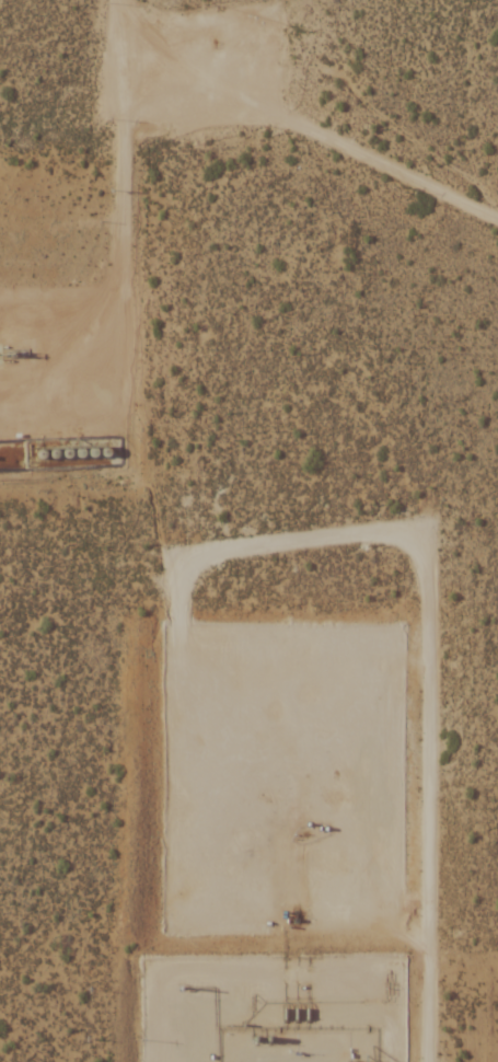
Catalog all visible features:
road: (106, 15)
road: (302, 120)
road: (119, 228)
petroleum well: (12, 353)
road: (410, 535)
petroleum well: (301, 834)

